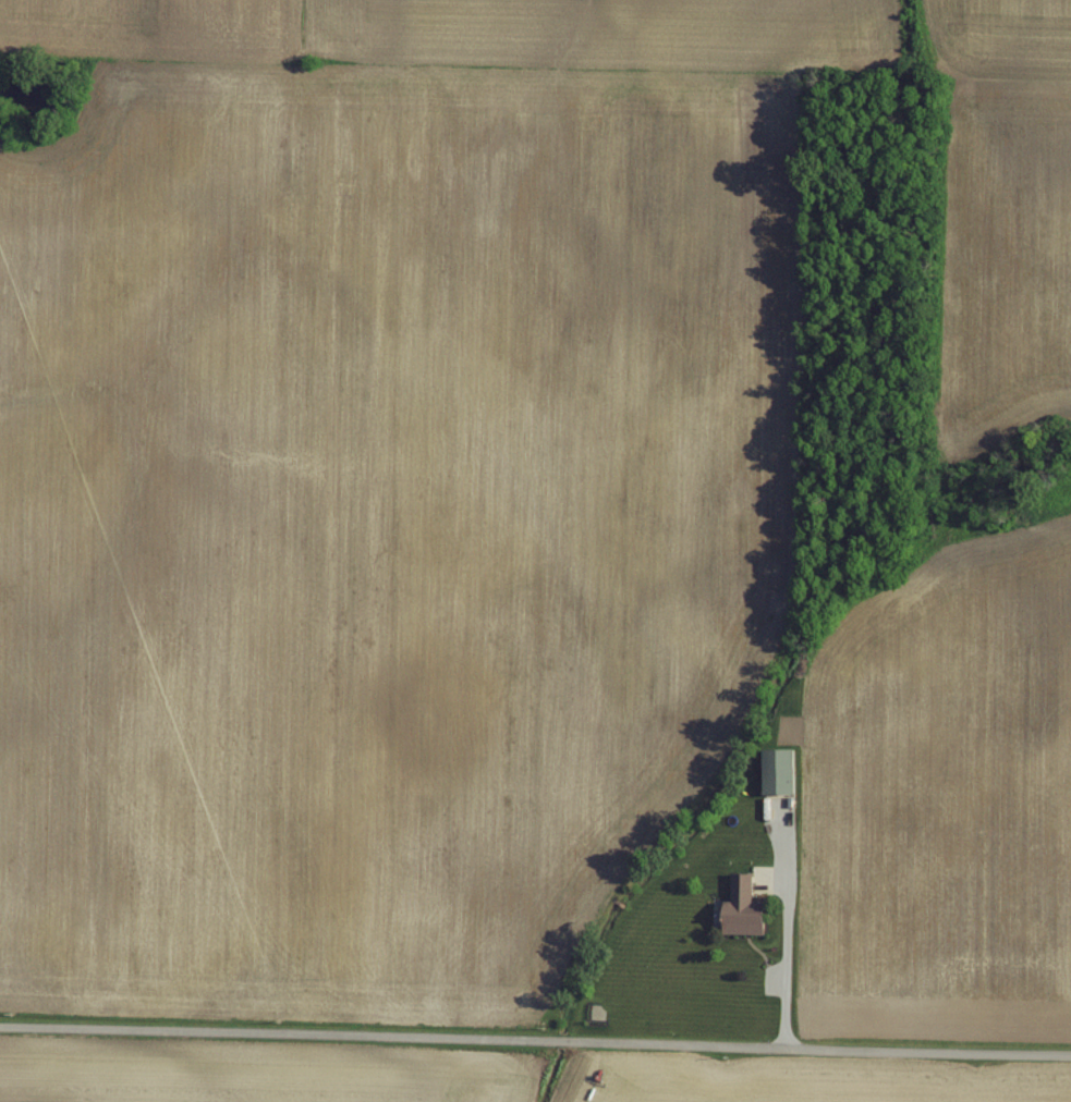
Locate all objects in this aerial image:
road: (784, 921)
road: (780, 987)
road: (535, 1042)

